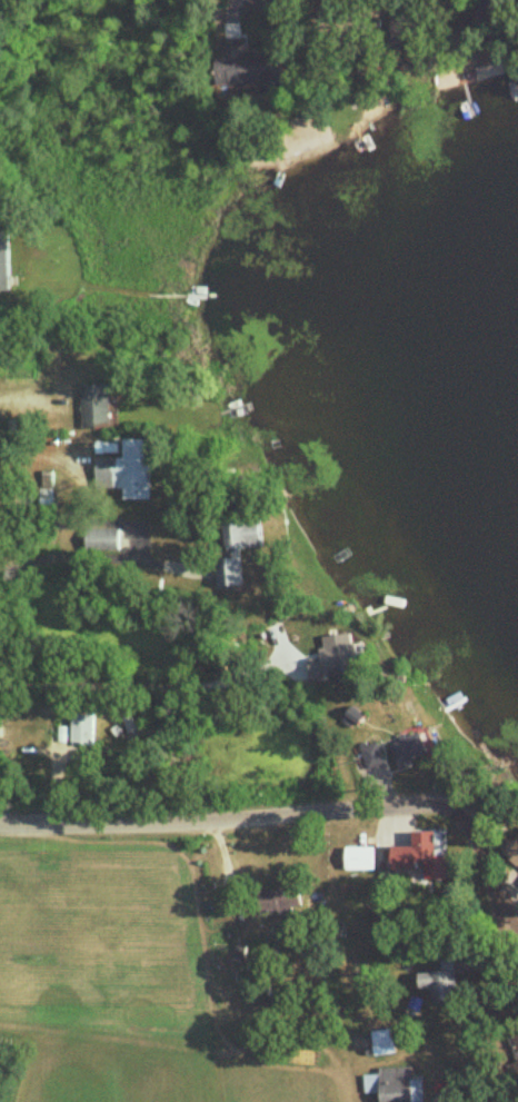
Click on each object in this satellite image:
building: (245, 67)
building: (4, 265)
building: (97, 406)
building: (127, 471)
building: (104, 539)
road: (139, 540)
building: (239, 552)
building: (339, 659)
road: (141, 686)
building: (130, 727)
building: (83, 729)
building: (411, 749)
road: (277, 816)
building: (516, 845)
building: (422, 856)
building: (362, 860)
building: (280, 901)
road: (496, 979)
building: (440, 984)
building: (382, 1043)
road: (454, 1076)
building: (395, 1086)

